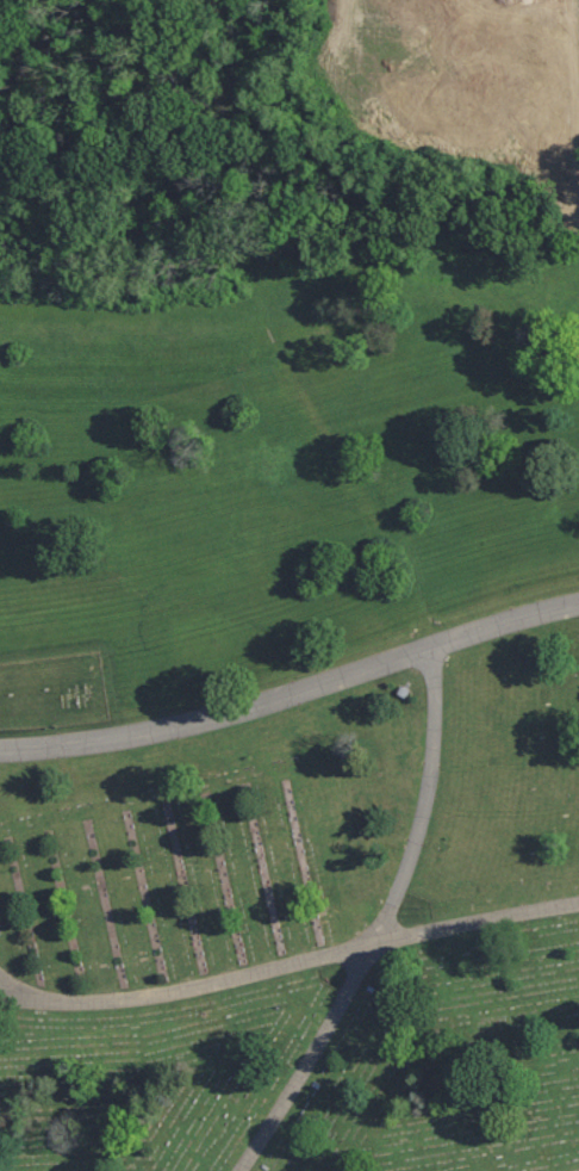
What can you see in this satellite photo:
road: (566, 61)
park: (289, 585)
road: (293, 694)
road: (384, 924)
road: (289, 962)
road: (18, 987)

